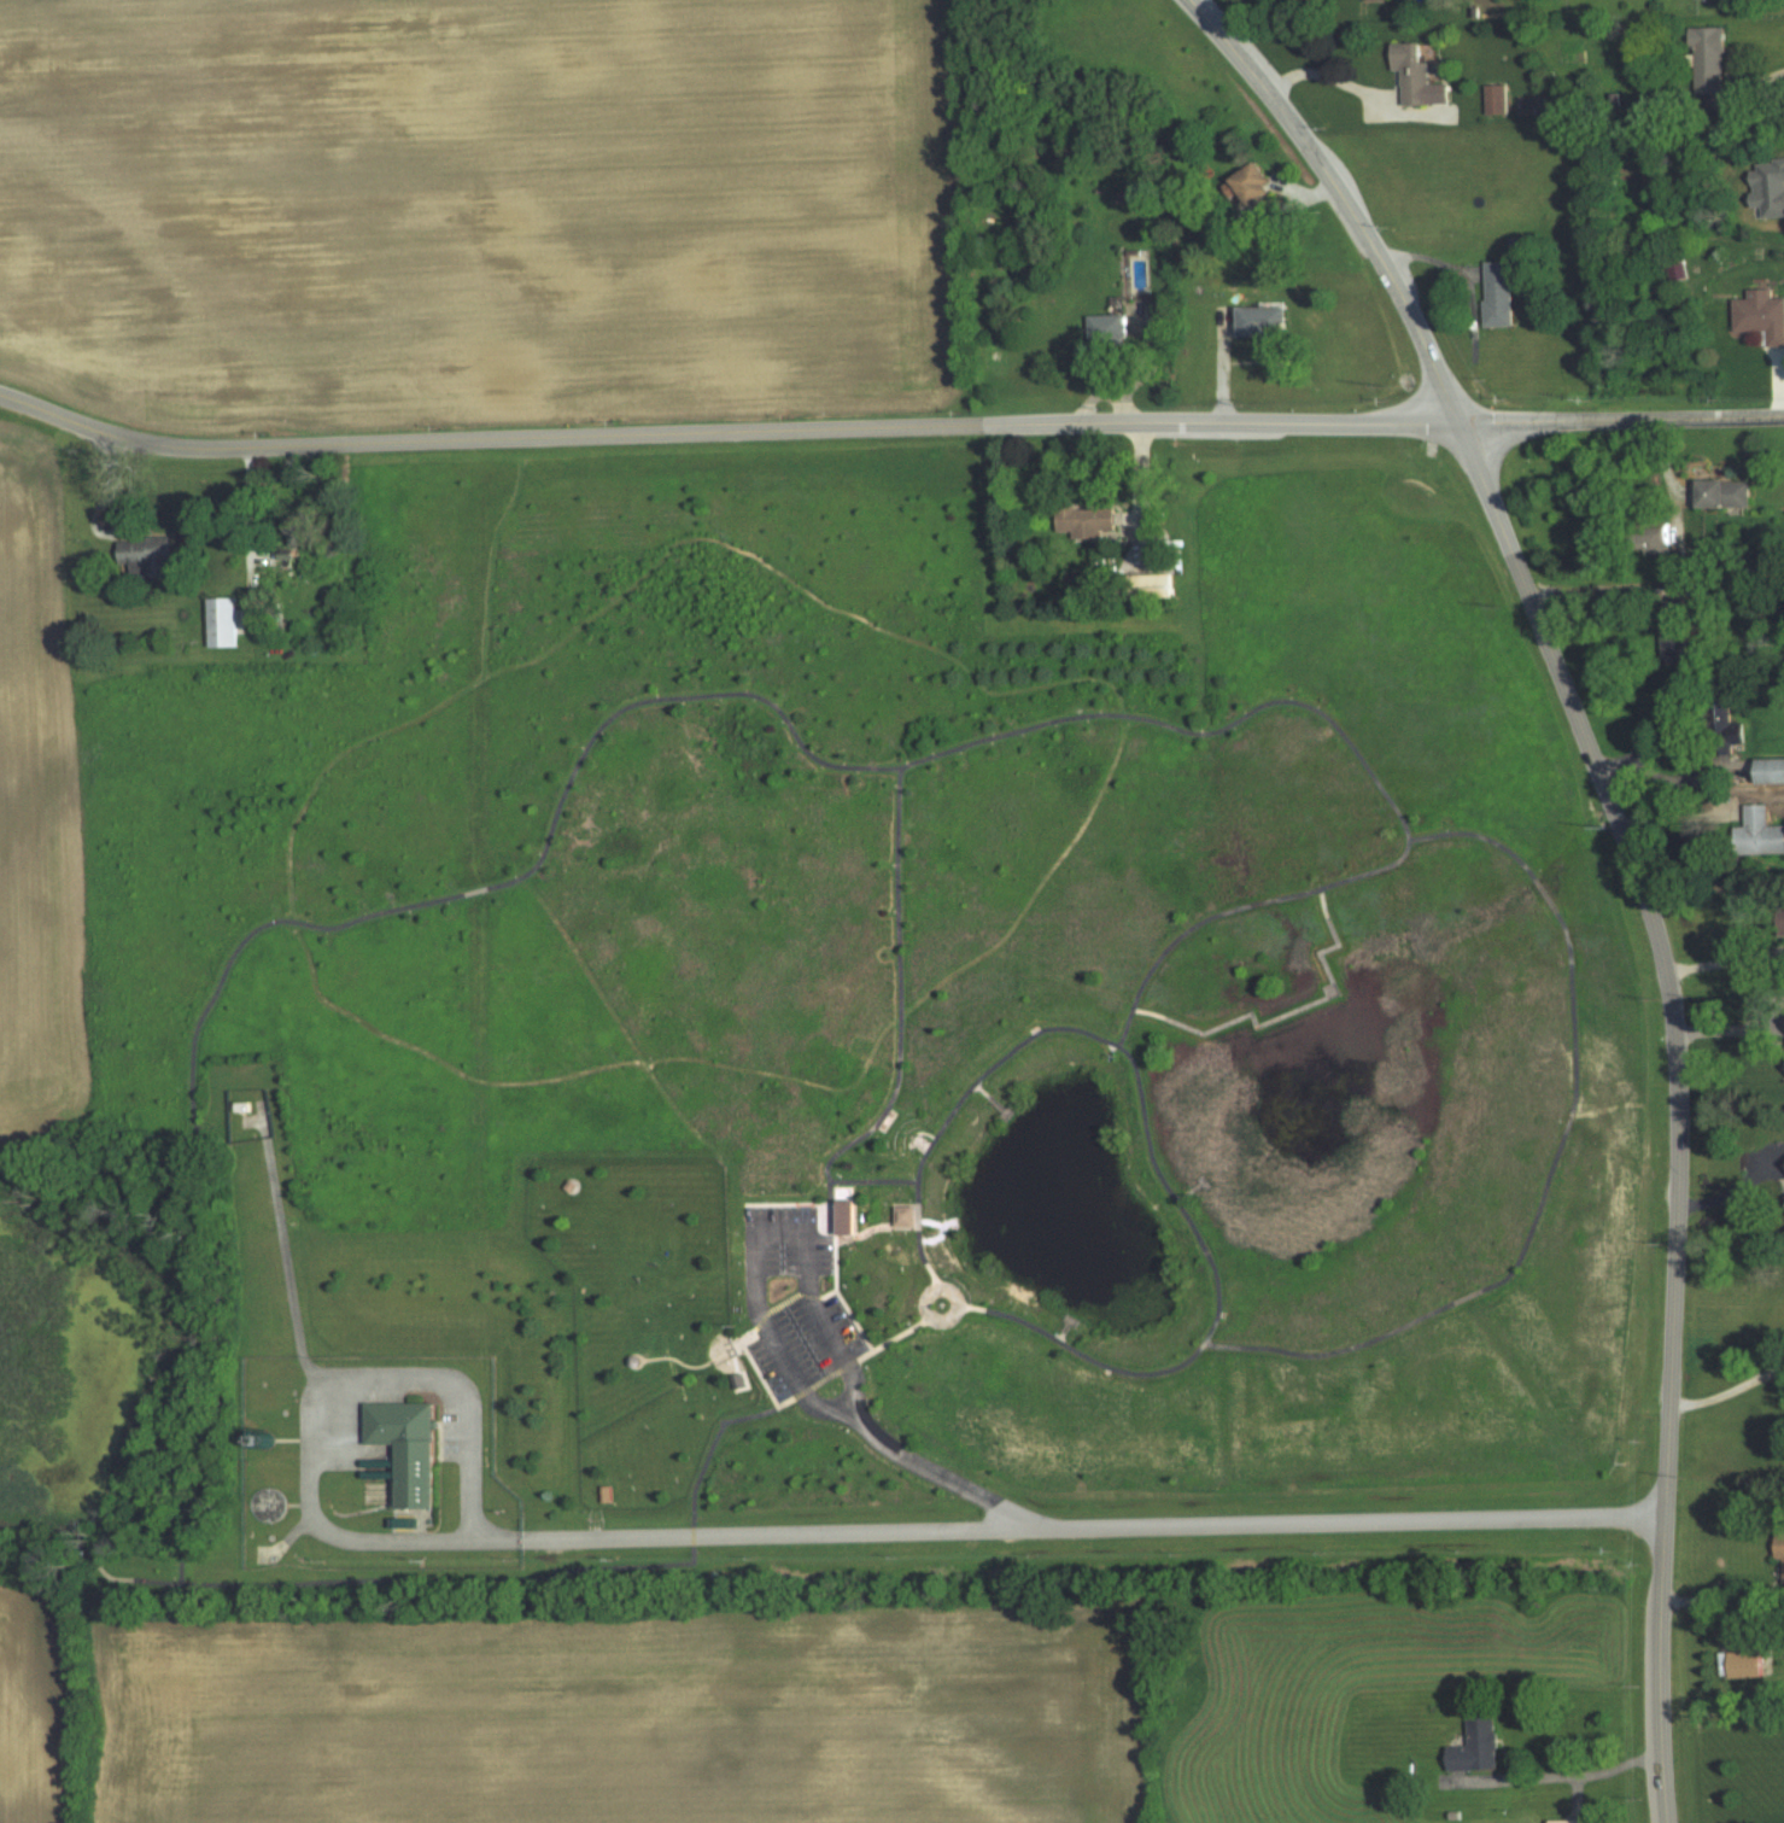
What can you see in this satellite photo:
road: (1191, 0)
building: (1714, 58)
building: (1422, 75)
road: (1332, 82)
road: (1754, 82)
building: (1499, 99)
building: (1256, 183)
road: (1341, 195)
building: (1503, 294)
building: (1762, 314)
building: (1265, 321)
building: (1110, 328)
road: (1092, 421)
road: (195, 446)
building: (1726, 493)
building: (1087, 524)
building: (304, 536)
building: (1666, 544)
building: (150, 556)
building: (224, 623)
road: (686, 697)
building: (1772, 771)
road: (1677, 817)
building: (1763, 832)
road: (297, 927)
road: (1724, 964)
road: (897, 998)
road: (1288, 1011)
park: (844, 1064)
road: (660, 1071)
road: (1678, 1099)
building: (240, 1105)
road: (251, 1120)
road: (1151, 1145)
road: (1555, 1159)
road: (872, 1179)
building: (840, 1211)
building: (905, 1215)
road: (765, 1219)
road: (282, 1243)
road: (949, 1291)
road: (836, 1292)
parking lot: (792, 1301)
road: (850, 1360)
road: (385, 1374)
road: (1726, 1387)
road: (840, 1404)
parking lot: (332, 1424)
building: (404, 1447)
road: (935, 1473)
road: (469, 1501)
road: (1092, 1527)
road: (388, 1541)
building: (1782, 1546)
road: (484, 1579)
building: (1748, 1663)
building: (1472, 1745)
road: (1556, 1775)
building: (1572, 1821)

